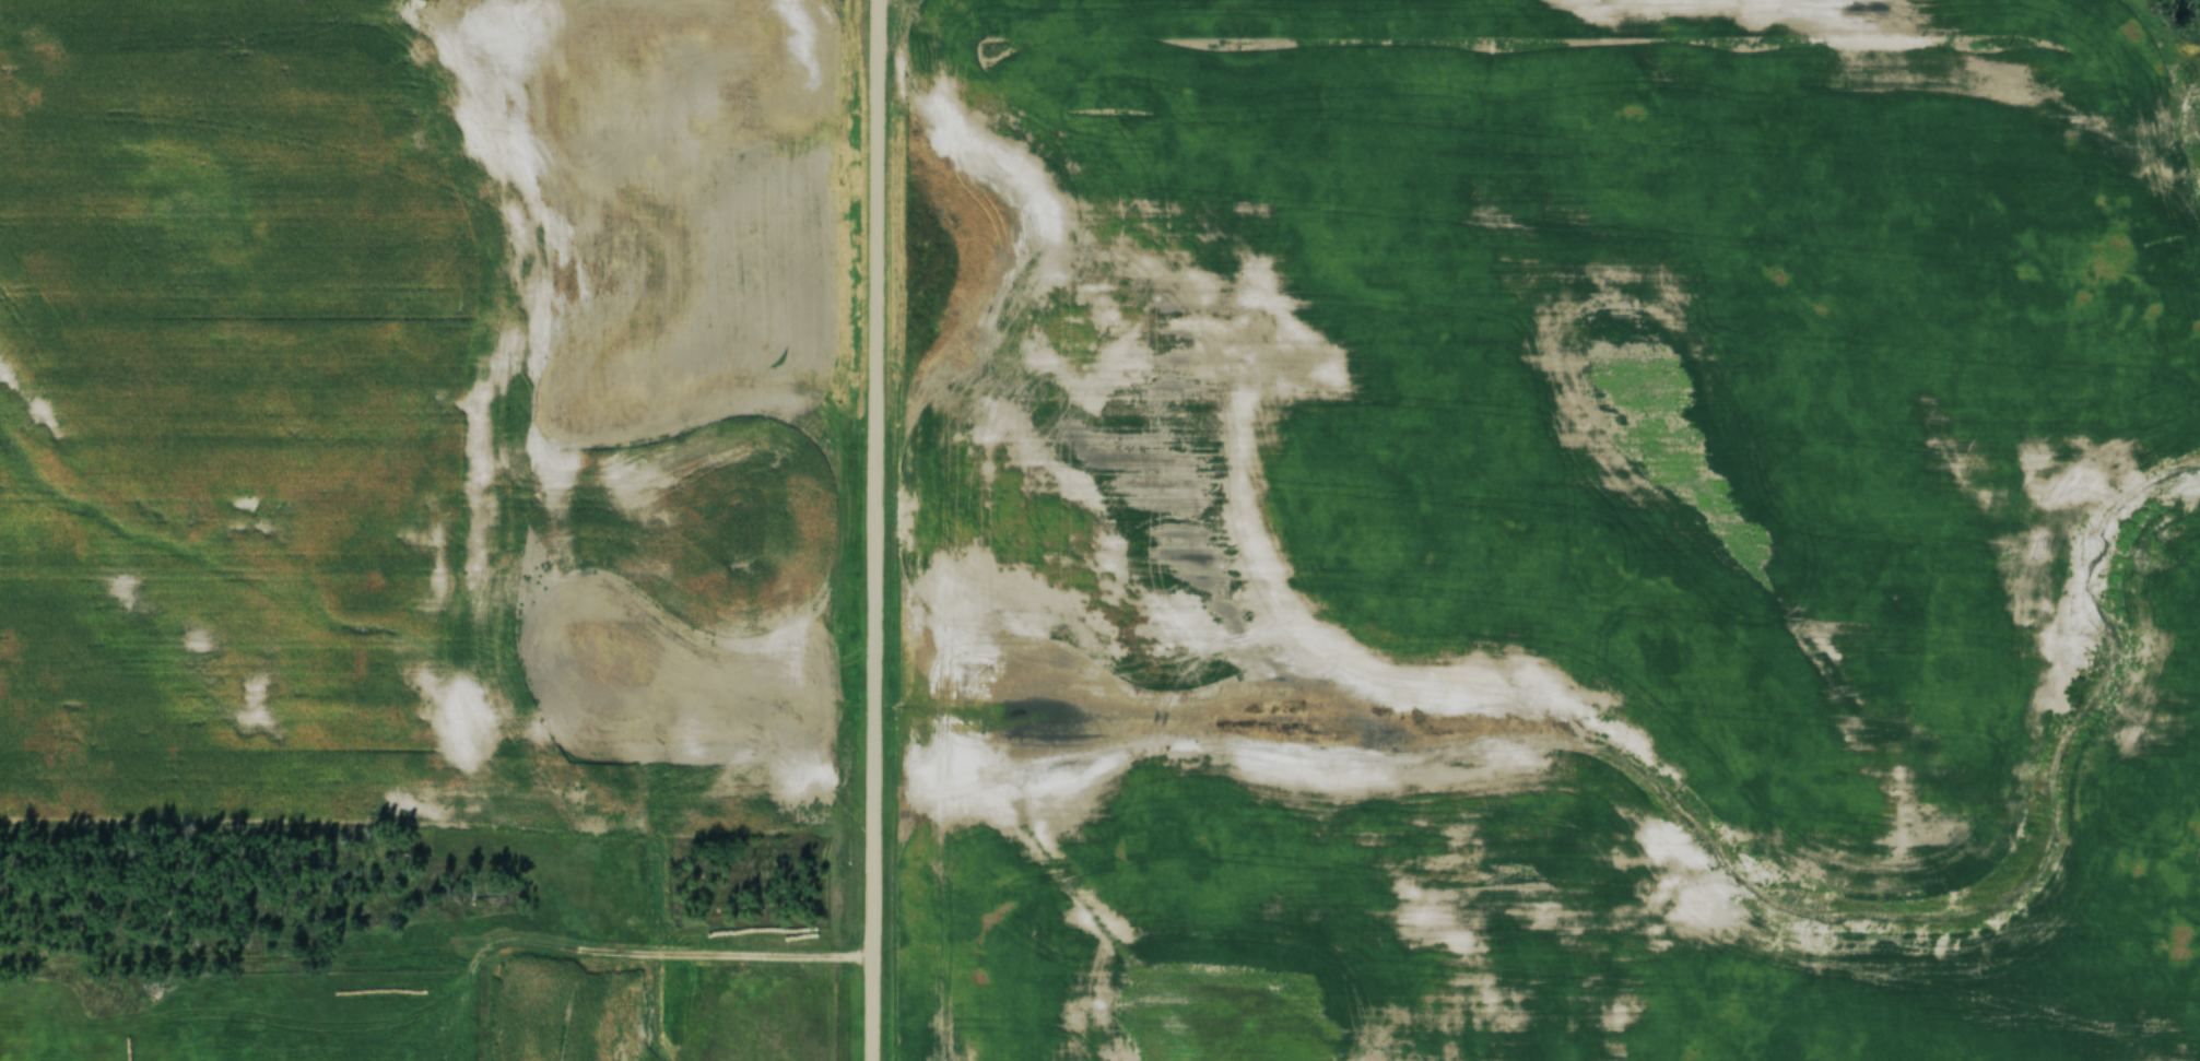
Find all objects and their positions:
road: (874, 530)

